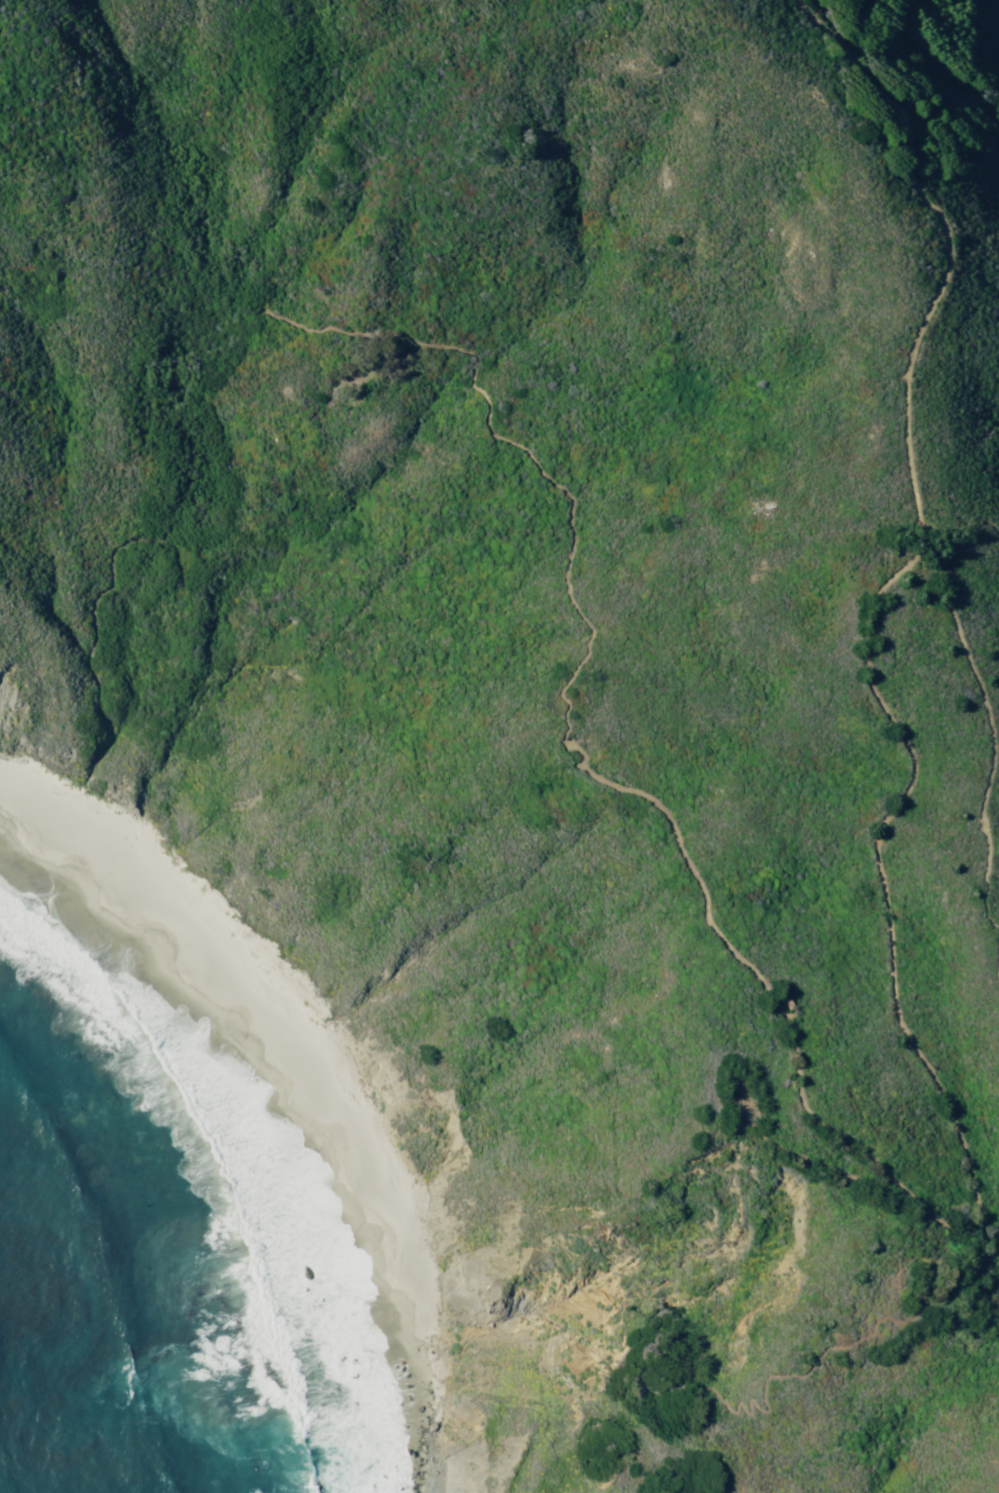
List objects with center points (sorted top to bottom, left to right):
road: (953, 235)
road: (991, 724)
road: (798, 1043)

